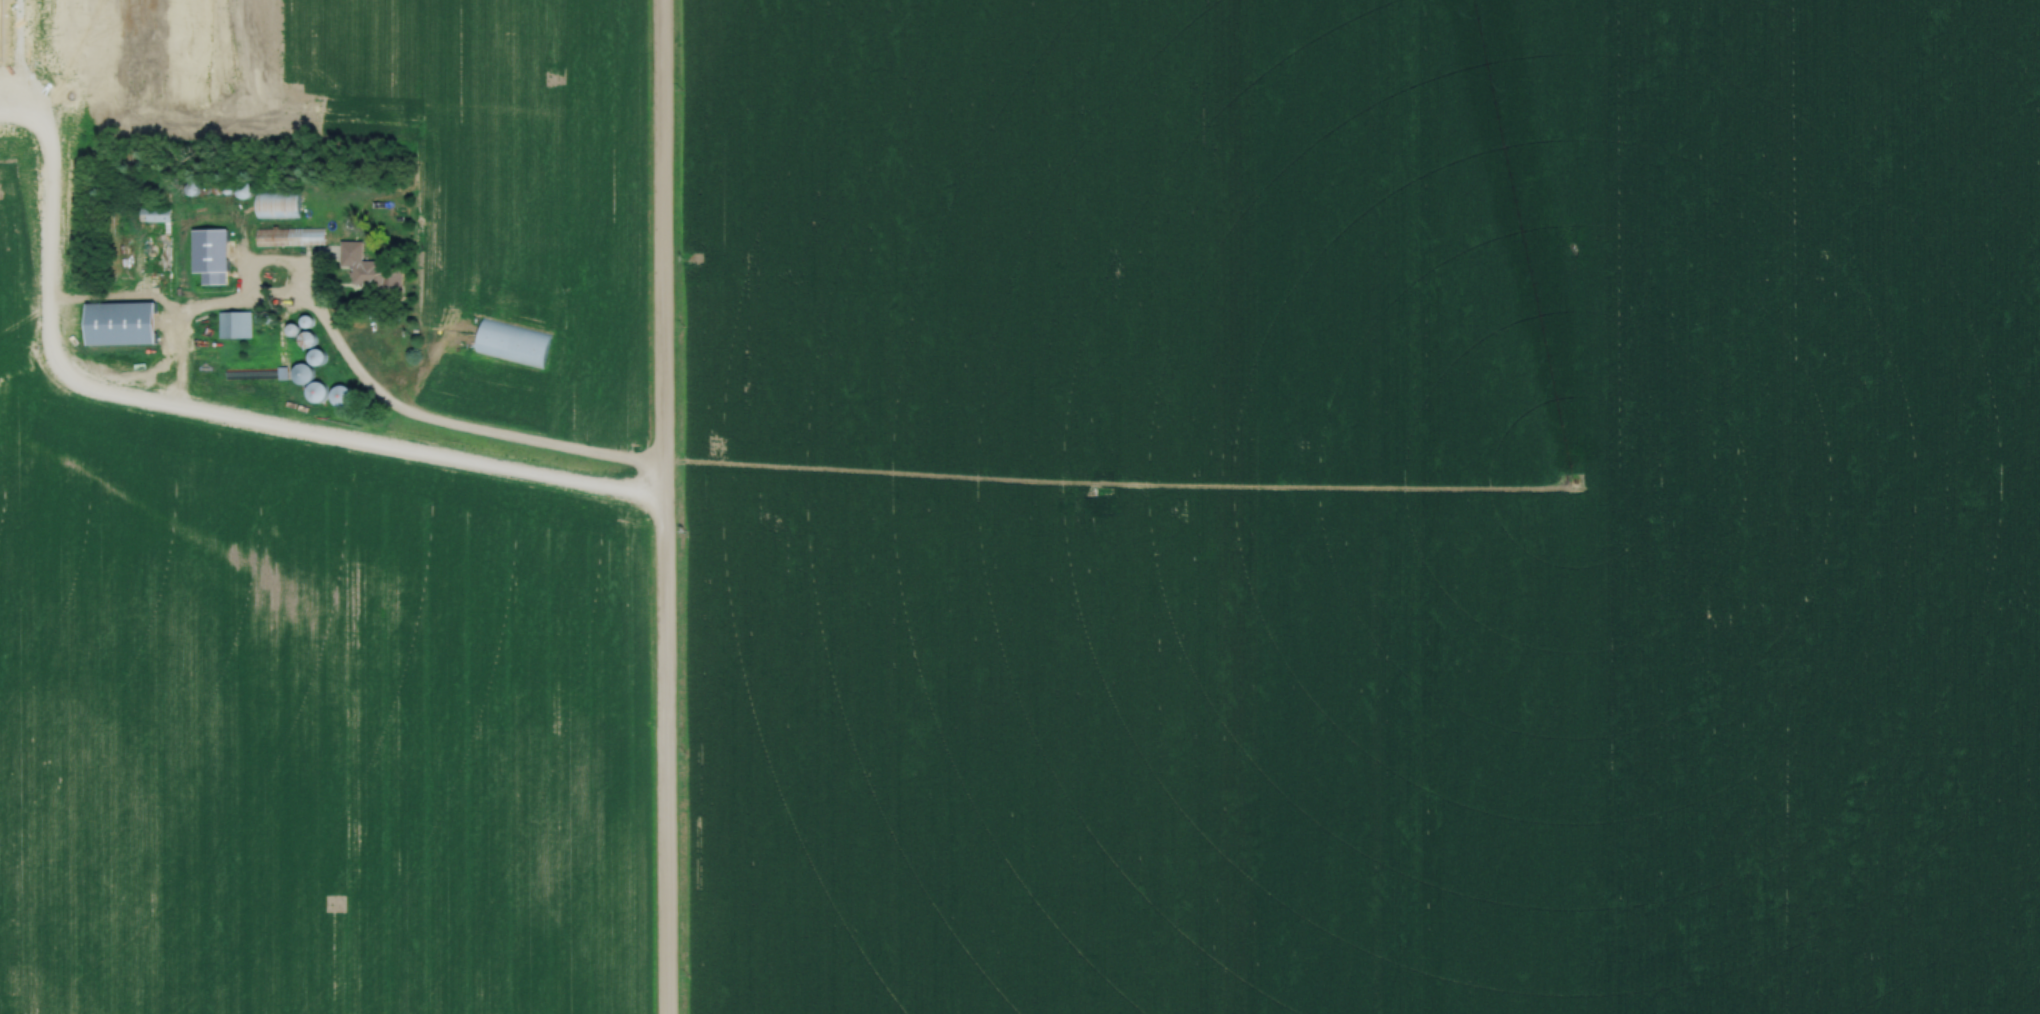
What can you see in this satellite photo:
building: (276, 205)
building: (153, 214)
building: (289, 236)
building: (217, 252)
building: (367, 272)
building: (119, 322)
building: (234, 323)
building: (306, 339)
building: (511, 342)
building: (302, 373)
building: (315, 391)
road: (452, 427)
road: (662, 506)

